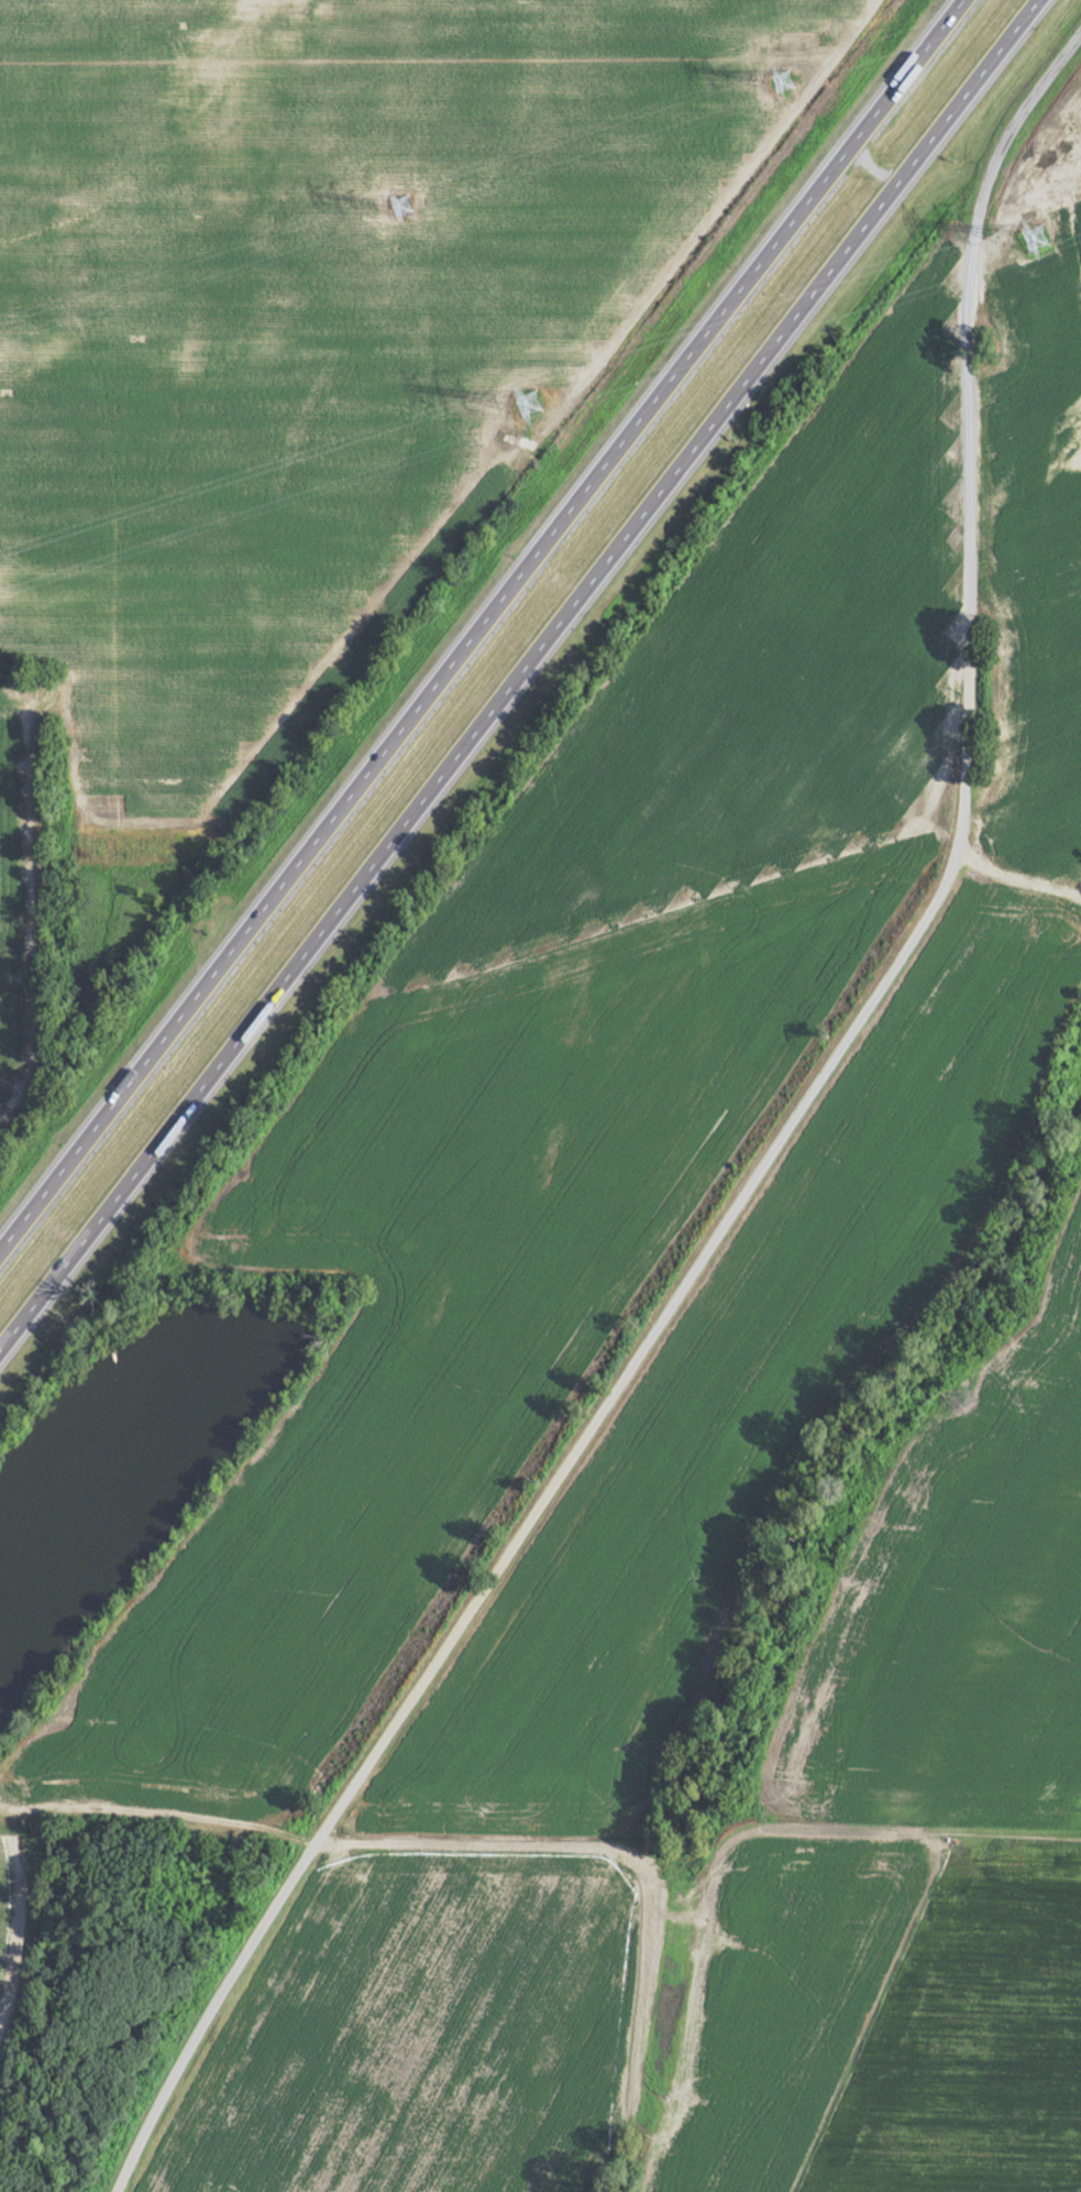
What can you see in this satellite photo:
road: (982, 193)
power tower: (1041, 234)
crop: (312, 347)
power tower: (531, 402)
road: (479, 623)
crop: (761, 644)
road: (518, 675)
crop: (433, 1298)
road: (662, 1319)
crop: (130, 1454)

